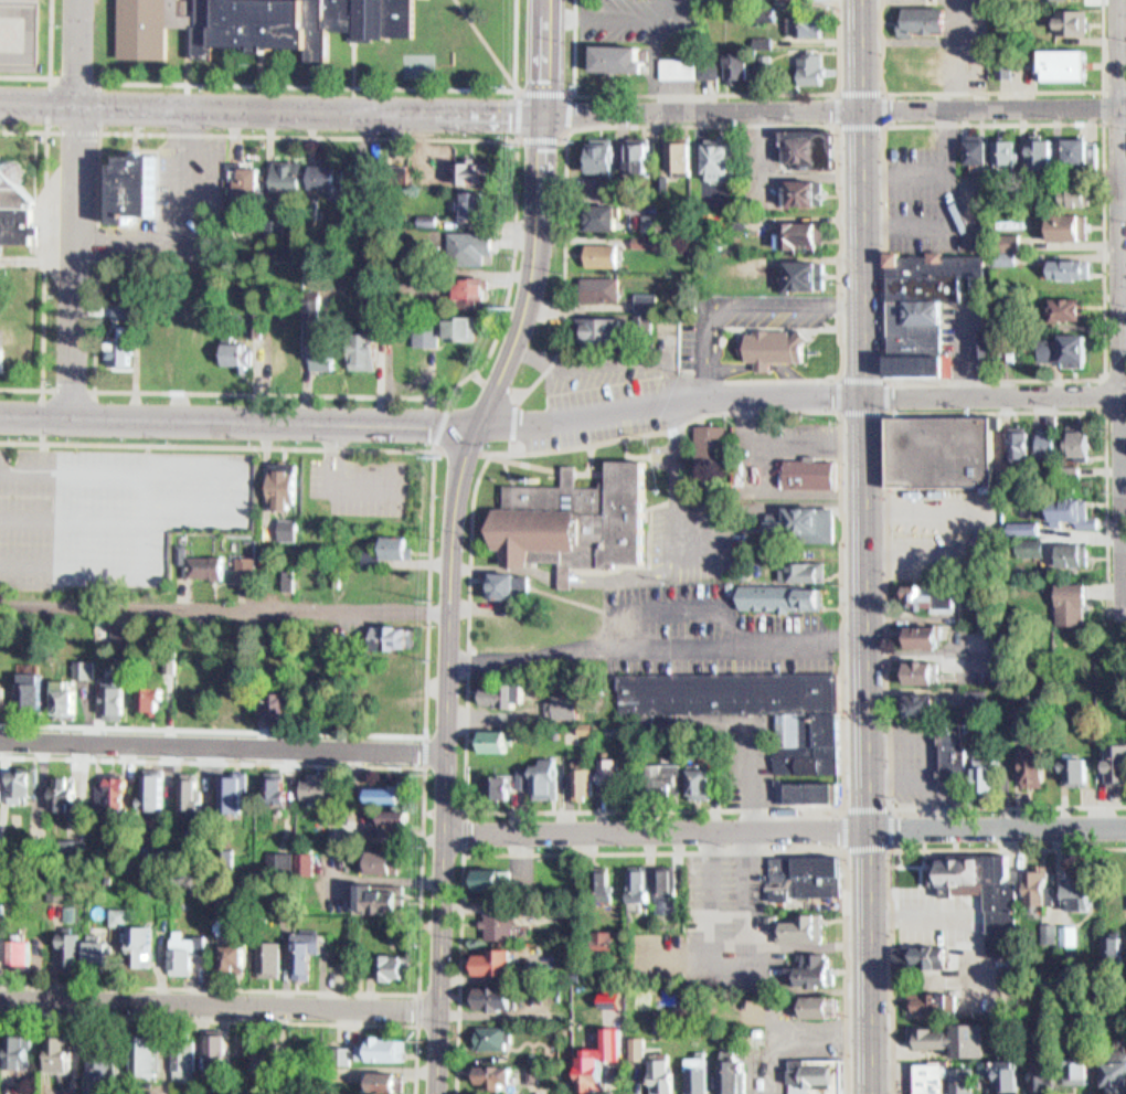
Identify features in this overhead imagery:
building: (923, 17)
building: (259, 21)
building: (1072, 23)
helipad: (3, 25)
building: (805, 25)
building: (763, 42)
road: (486, 44)
road: (185, 54)
building: (616, 57)
road: (351, 62)
road: (49, 63)
park: (415, 63)
building: (689, 64)
building: (780, 64)
road: (255, 65)
building: (737, 66)
building: (1061, 66)
building: (811, 67)
building: (1003, 68)
road: (350, 84)
road: (987, 89)
road: (700, 92)
road: (1094, 103)
traffic signals: (542, 111)
road: (563, 111)
road: (747, 123)
road: (884, 124)
road: (93, 131)
road: (563, 135)
building: (975, 147)
building: (810, 149)
building: (1075, 149)
building: (1006, 150)
building: (1038, 151)
building: (637, 153)
building: (604, 155)
building: (678, 155)
building: (716, 158)
building: (474, 172)
building: (363, 174)
building: (289, 177)
building: (330, 177)
building: (251, 179)
building: (801, 190)
building: (1072, 190)
parking lot: (187, 194)
parking lot: (933, 197)
building: (125, 203)
building: (477, 205)
road: (72, 209)
building: (235, 210)
building: (598, 213)
building: (15, 214)
road: (537, 217)
building: (644, 220)
building: (1066, 225)
building: (795, 234)
building: (640, 240)
building: (1032, 241)
building: (1009, 242)
building: (470, 247)
building: (596, 253)
road: (42, 257)
building: (1066, 267)
building: (801, 273)
building: (471, 286)
building: (594, 286)
building: (642, 300)
road: (1112, 304)
building: (927, 307)
building: (1067, 308)
building: (460, 328)
building: (597, 328)
building: (425, 331)
building: (199, 342)
building: (771, 344)
building: (367, 347)
building: (985, 347)
building: (1064, 347)
building: (283, 348)
building: (321, 349)
building: (235, 351)
building: (2, 359)
building: (117, 359)
road: (476, 363)
road: (1094, 370)
road: (883, 378)
road: (1095, 386)
road: (40, 389)
road: (513, 396)
road: (563, 415)
building: (710, 438)
building: (1085, 442)
building: (1052, 444)
road: (434, 446)
road: (589, 449)
building: (1024, 449)
building: (942, 453)
road: (545, 467)
road: (507, 470)
building: (809, 472)
building: (573, 474)
building: (286, 485)
parking lot: (114, 513)
building: (1077, 513)
building: (573, 521)
building: (803, 521)
building: (279, 529)
road: (1125, 537)
road: (863, 546)
road: (888, 553)
building: (1077, 555)
building: (389, 562)
building: (206, 566)
building: (245, 567)
building: (741, 570)
building: (364, 572)
building: (309, 576)
building: (238, 581)
building: (795, 584)
building: (510, 586)
building: (301, 588)
road: (428, 588)
building: (280, 593)
building: (935, 597)
building: (502, 599)
building: (1076, 603)
building: (917, 612)
building: (776, 613)
road: (223, 619)
building: (394, 635)
building: (124, 636)
building: (926, 637)
building: (113, 648)
building: (918, 649)
building: (390, 651)
building: (85, 668)
building: (924, 673)
building: (918, 687)
building: (35, 689)
building: (4, 692)
building: (81, 692)
building: (729, 692)
building: (116, 693)
building: (502, 693)
building: (152, 695)
building: (67, 697)
building: (24, 703)
building: (283, 705)
building: (569, 705)
building: (928, 705)
building: (107, 707)
building: (55, 708)
building: (495, 709)
building: (1027, 718)
building: (918, 719)
building: (559, 721)
building: (496, 740)
road: (222, 747)
building: (960, 751)
road: (423, 752)
building: (817, 752)
building: (487, 755)
road: (443, 757)
building: (1119, 766)
building: (1039, 767)
building: (614, 772)
building: (1081, 772)
building: (671, 775)
building: (525, 776)
building: (548, 776)
building: (584, 780)
building: (602, 780)
building: (705, 782)
building: (23, 783)
building: (501, 784)
building: (0, 785)
building: (318, 785)
building: (277, 786)
building: (656, 788)
building: (155, 789)
building: (987, 789)
building: (66, 790)
building: (518, 790)
building: (576, 792)
building: (693, 792)
building: (806, 792)
building: (389, 793)
building: (538, 793)
building: (117, 796)
building: (308, 796)
building: (13, 797)
building: (191, 798)
building: (496, 799)
road: (843, 800)
building: (146, 804)
building: (227, 804)
building: (56, 805)
building: (267, 805)
building: (106, 806)
building: (180, 806)
building: (378, 809)
road: (463, 810)
building: (393, 820)
road: (784, 827)
building: (384, 833)
road: (890, 849)
building: (2, 850)
road: (655, 850)
road: (890, 853)
building: (385, 859)
building: (279, 861)
building: (64, 863)
building: (806, 874)
building: (270, 875)
building: (375, 875)
building: (493, 875)
building: (296, 878)
road: (418, 881)
building: (606, 883)
building: (642, 883)
building: (1042, 884)
building: (669, 888)
building: (1081, 889)
building: (486, 893)
building: (381, 894)
building: (633, 894)
building: (595, 895)
building: (658, 905)
building: (370, 907)
building: (524, 921)
building: (1005, 921)
building: (501, 923)
building: (799, 924)
building: (63, 927)
building: (114, 931)
building: (609, 937)
building: (493, 939)
building: (141, 943)
building: (230, 946)
building: (1, 947)
building: (100, 948)
building: (1114, 948)
building: (74, 949)
building: (187, 949)
building: (25, 950)
building: (925, 956)
building: (134, 958)
building: (499, 959)
building: (67, 964)
building: (395, 964)
building: (179, 965)
building: (298, 965)
building: (814, 965)
building: (15, 966)
building: (92, 967)
building: (263, 968)
building: (225, 971)
building: (384, 974)
building: (806, 994)
building: (496, 995)
building: (936, 1002)
road: (418, 1003)
building: (488, 1011)
building: (605, 1011)
building: (810, 1012)
road: (217, 1016)
road: (234, 1031)
building: (493, 1035)
building: (953, 1037)
building: (754, 1045)
building: (383, 1048)
building: (487, 1048)
building: (640, 1048)
building: (22, 1049)
building: (219, 1050)
building: (64, 1051)
building: (147, 1054)
building: (268, 1054)
building: (183, 1058)
building: (633, 1060)
building: (209, 1061)
building: (108, 1063)
building: (1083, 1063)
building: (11, 1064)
building: (359, 1065)
building: (52, 1068)
building: (595, 1069)
building: (137, 1070)
building: (255, 1070)
building: (1051, 1070)
building: (177, 1072)
building: (498, 1073)
building: (1010, 1074)
building: (97, 1075)
building: (1117, 1075)
building: (930, 1079)
building: (965, 1080)
building: (693, 1082)
building: (811, 1082)
building: (655, 1083)
building: (538, 1084)
building: (726, 1084)
building: (491, 1085)
building: (376, 1086)

